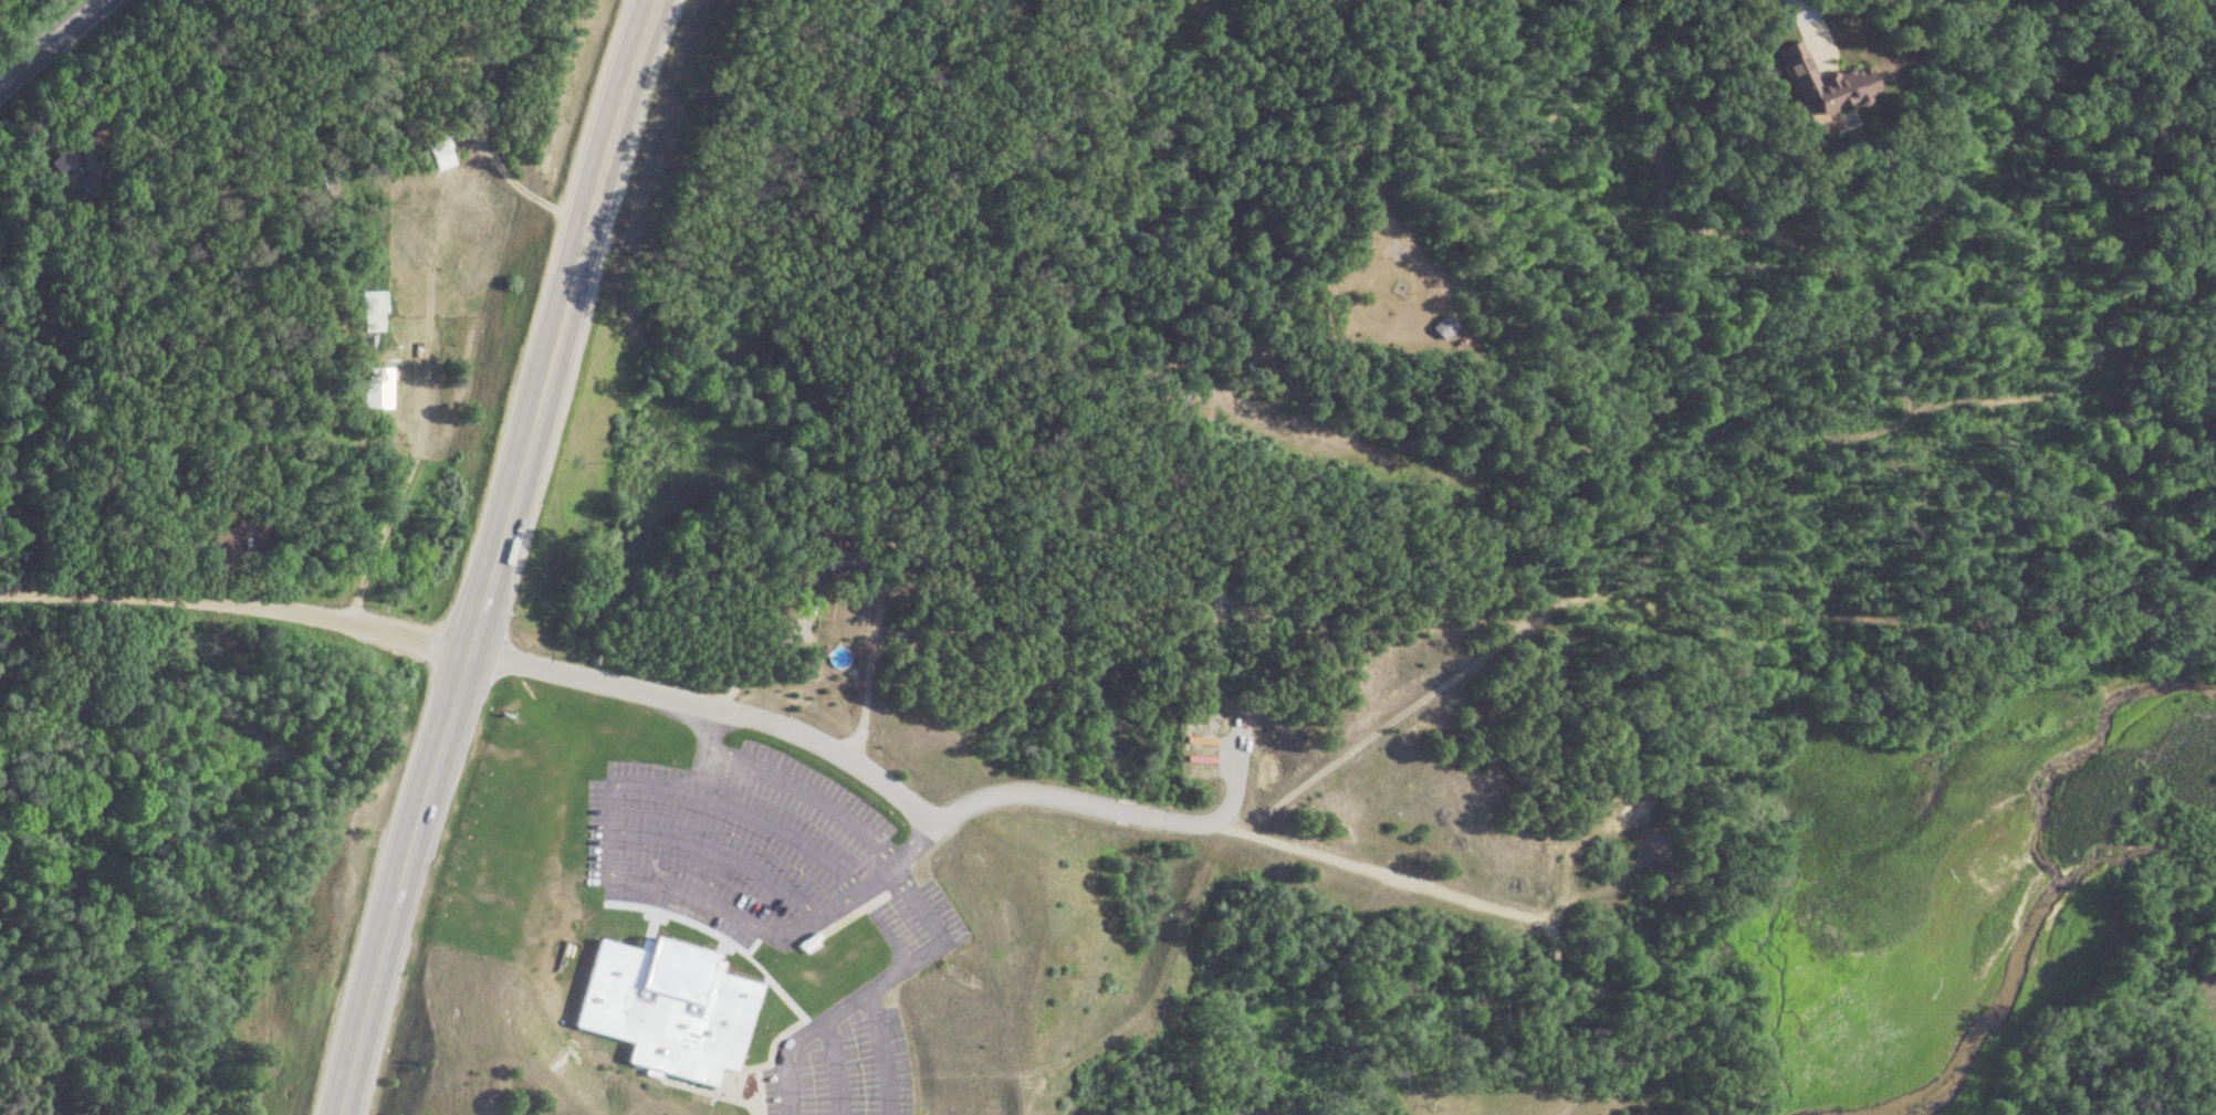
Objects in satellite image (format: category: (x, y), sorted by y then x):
road: (1810, 25)
road: (48, 38)
building: (1812, 82)
road: (521, 180)
building: (373, 312)
building: (1429, 327)
road: (488, 556)
road: (232, 603)
road: (874, 631)
road: (764, 653)
road: (700, 750)
road: (887, 786)
road: (803, 792)
road: (719, 853)
road: (615, 873)
parking lot: (770, 894)
road: (1480, 895)
road: (878, 926)
road: (930, 939)
road: (767, 961)
road: (797, 996)
building: (663, 1002)
road: (796, 1041)
road: (878, 1052)
road: (835, 1067)

